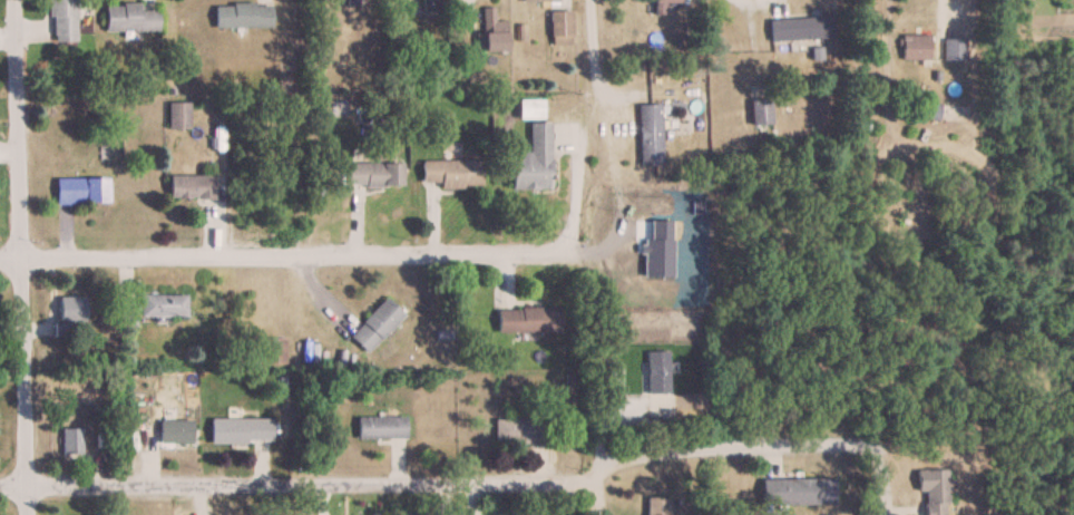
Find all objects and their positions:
building: (539, 0)
road: (746, 2)
building: (656, 6)
building: (430, 7)
building: (243, 14)
road: (940, 16)
building: (129, 17)
building: (62, 20)
building: (559, 27)
building: (800, 28)
building: (491, 31)
building: (915, 46)
building: (954, 49)
road: (590, 60)
building: (760, 111)
building: (177, 114)
building: (650, 134)
building: (533, 161)
building: (451, 173)
building: (373, 174)
building: (189, 185)
road: (576, 185)
building: (81, 190)
road: (25, 256)
road: (157, 259)
road: (463, 259)
building: (157, 305)
building: (71, 308)
building: (528, 320)
building: (377, 324)
building: (274, 350)
building: (657, 371)
building: (381, 427)
building: (241, 429)
building: (506, 429)
building: (175, 430)
building: (71, 440)
road: (753, 441)
road: (299, 485)
building: (798, 490)
building: (935, 492)
road: (598, 501)
building: (656, 506)

